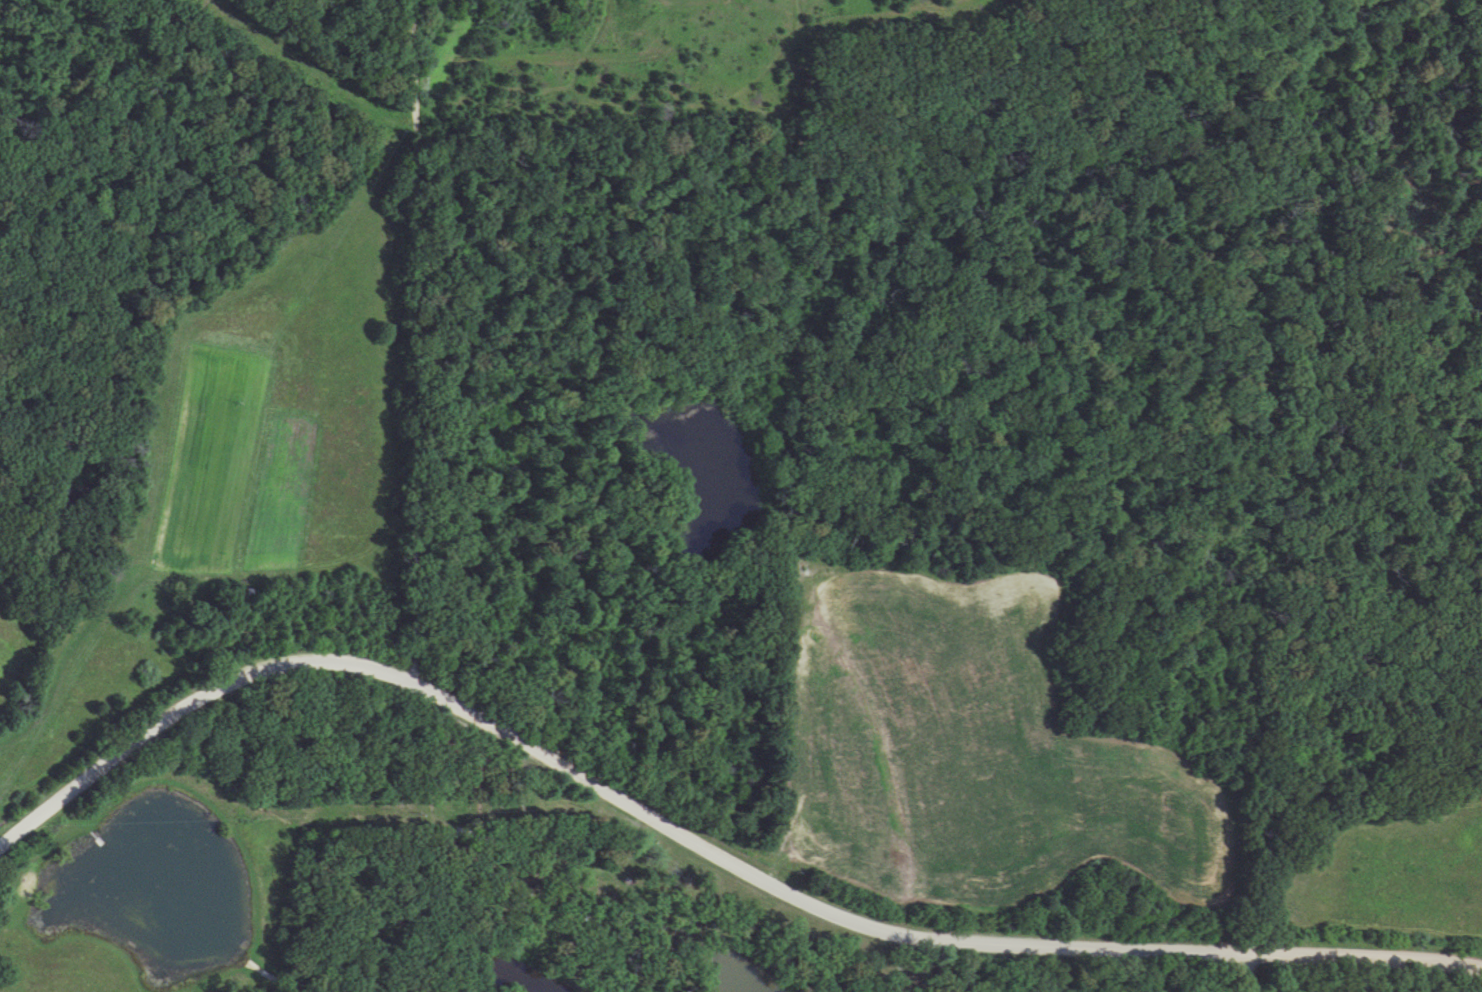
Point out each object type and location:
road: (420, 346)
road: (605, 791)
road: (1372, 957)

